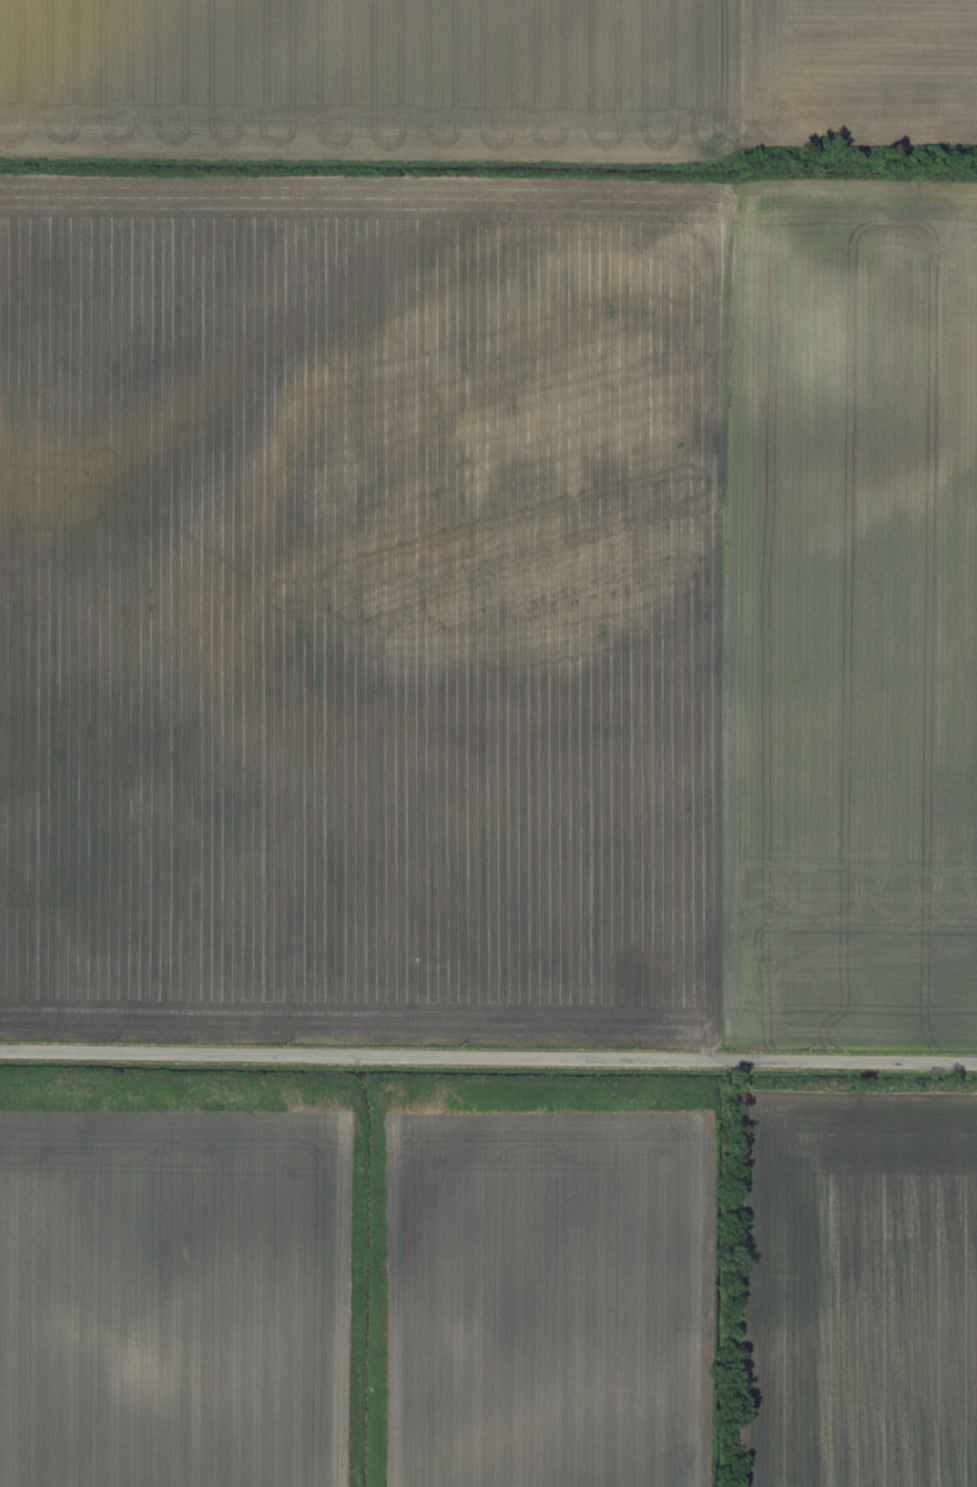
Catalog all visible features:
road: (488, 1053)

